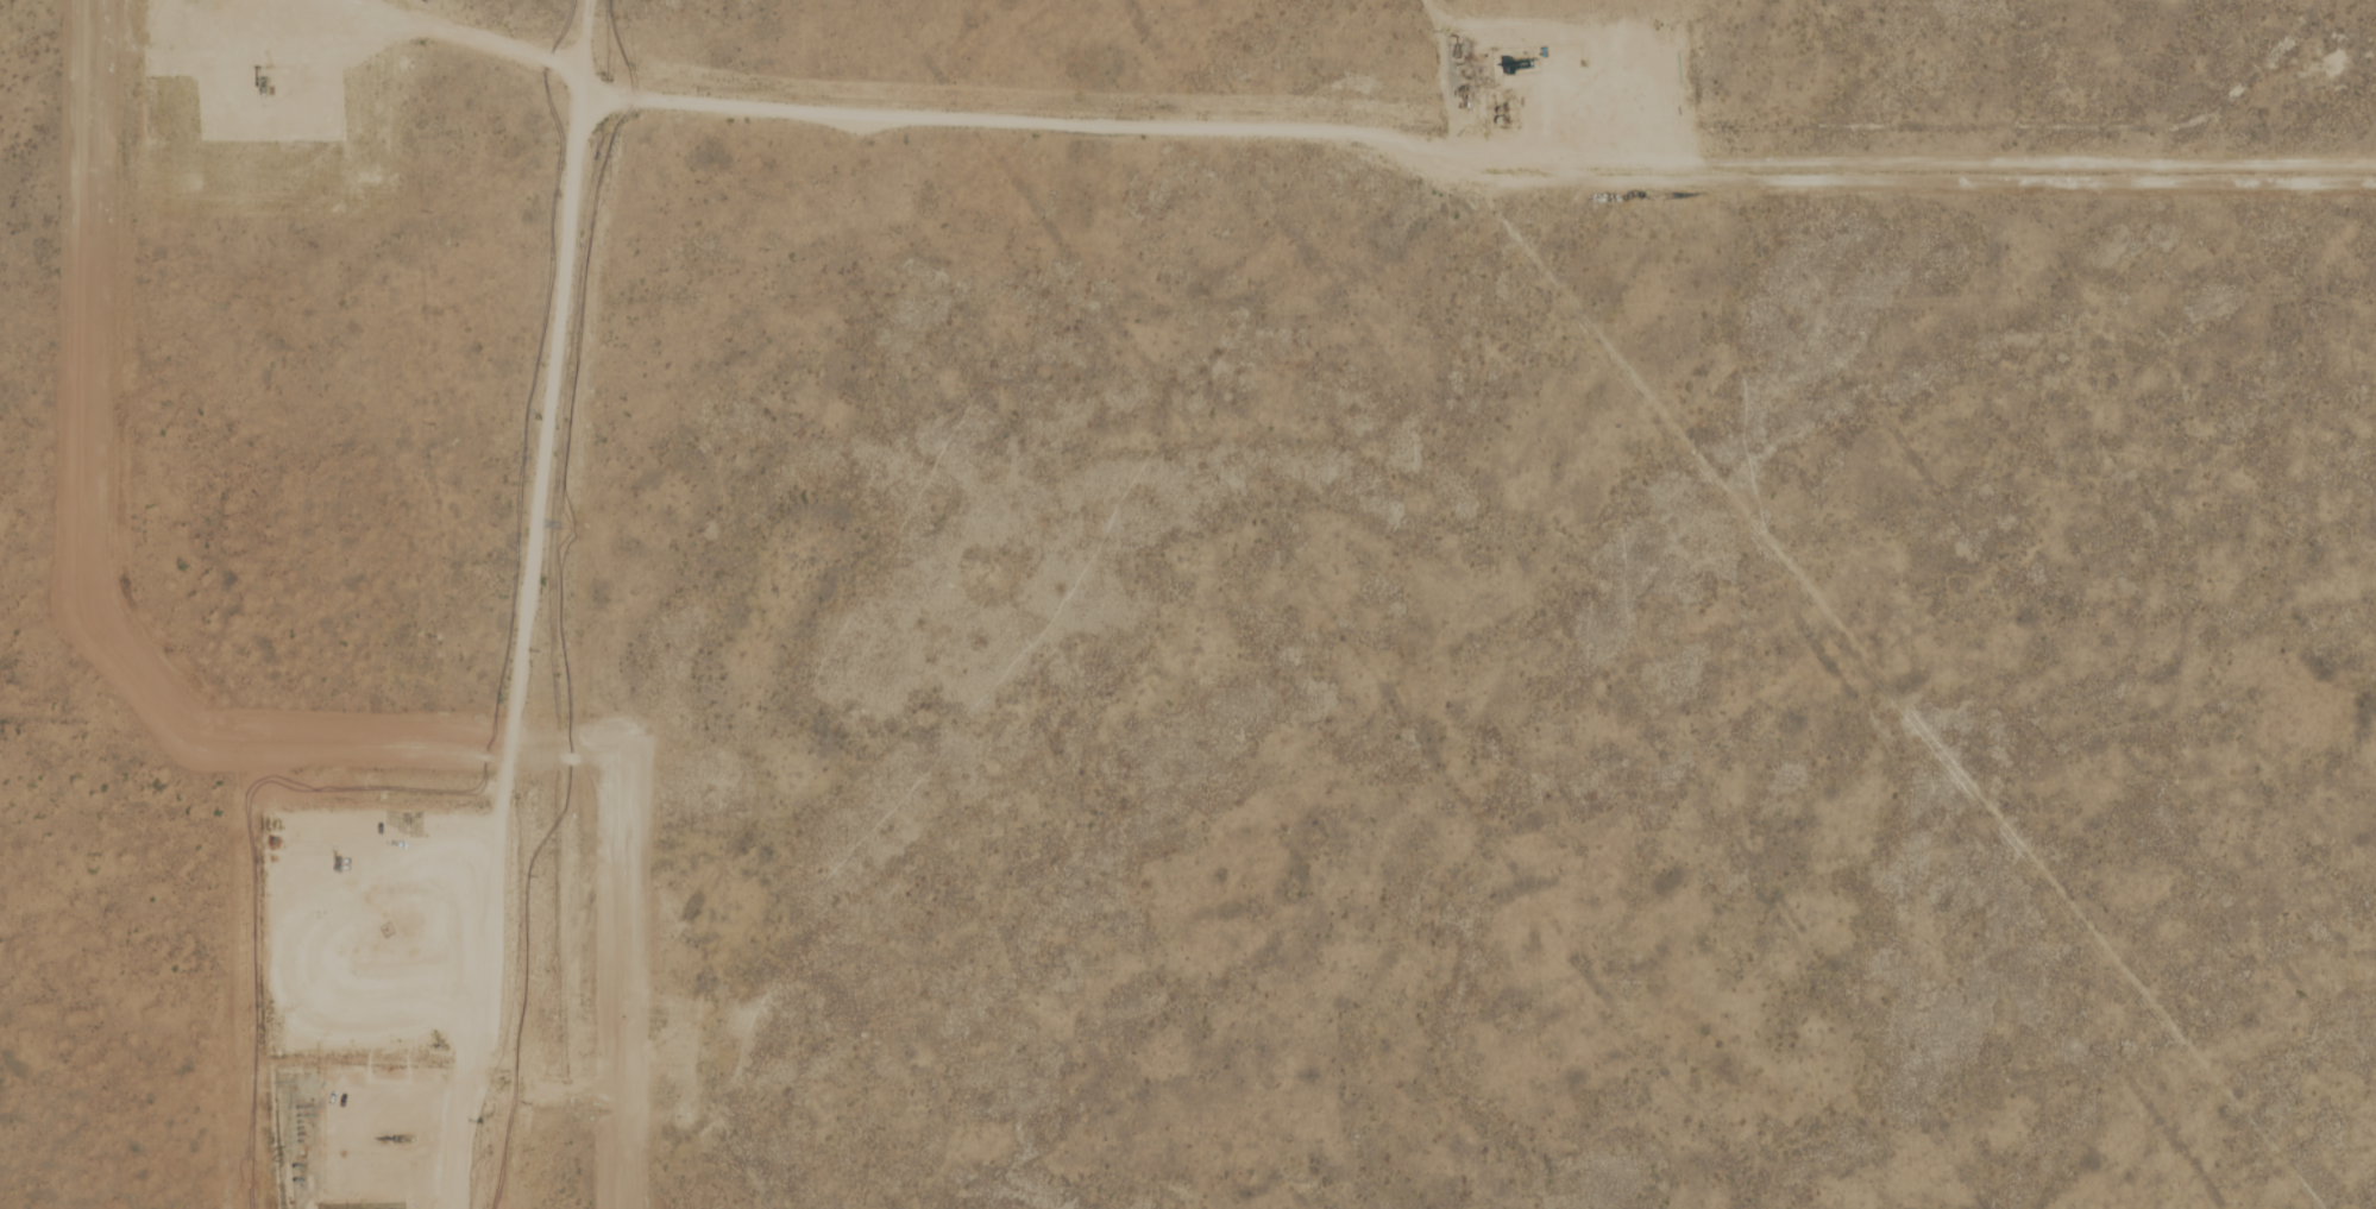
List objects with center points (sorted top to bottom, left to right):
road: (252, 33)
road: (455, 34)
petroleum well: (1585, 70)
road: (1120, 124)
petroleum well: (253, 127)
road: (513, 604)
petroleum well: (382, 940)
petroleum well: (227, 969)

